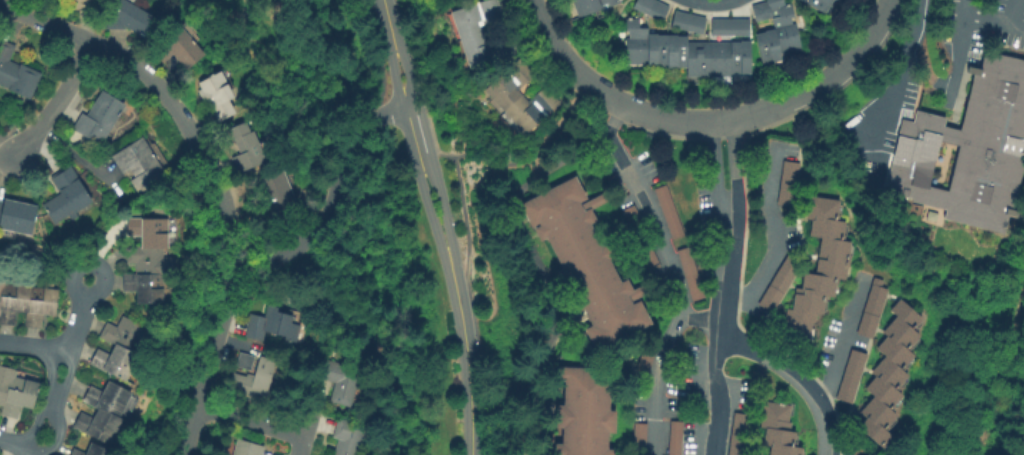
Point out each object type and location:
building: (79, 3)
building: (640, 4)
road: (713, 4)
building: (817, 4)
building: (587, 5)
building: (655, 9)
building: (758, 10)
building: (474, 17)
building: (129, 19)
building: (678, 19)
road: (386, 20)
building: (694, 22)
road: (995, 22)
building: (718, 25)
building: (737, 25)
building: (781, 25)
building: (634, 42)
building: (766, 46)
road: (958, 47)
building: (178, 48)
building: (485, 48)
building: (654, 49)
building: (674, 50)
building: (737, 56)
building: (694, 58)
building: (716, 58)
road: (847, 60)
road: (564, 63)
building: (15, 72)
road: (894, 83)
building: (509, 85)
building: (216, 94)
road: (413, 100)
road: (57, 104)
building: (531, 109)
building: (98, 117)
road: (706, 122)
building: (968, 147)
building: (245, 148)
road: (410, 150)
road: (76, 158)
road: (524, 158)
building: (139, 163)
road: (213, 178)
building: (787, 183)
building: (66, 194)
building: (277, 195)
road: (335, 195)
road: (441, 209)
building: (667, 210)
building: (631, 214)
building: (17, 216)
road: (774, 236)
building: (648, 253)
building: (148, 259)
building: (584, 262)
building: (648, 262)
road: (96, 266)
building: (818, 267)
building: (689, 275)
road: (670, 276)
building: (777, 284)
road: (721, 289)
building: (26, 303)
building: (871, 309)
building: (281, 323)
building: (255, 329)
road: (842, 340)
road: (32, 344)
building: (122, 346)
road: (464, 355)
building: (244, 361)
building: (643, 362)
road: (778, 365)
building: (686, 368)
road: (68, 372)
building: (759, 372)
building: (888, 372)
building: (850, 376)
road: (49, 377)
building: (253, 380)
building: (339, 380)
building: (15, 392)
building: (103, 411)
building: (584, 411)
road: (259, 424)
building: (776, 430)
building: (635, 433)
building: (737, 434)
road: (55, 437)
building: (348, 437)
building: (680, 438)
road: (18, 447)
building: (247, 448)
building: (92, 451)

